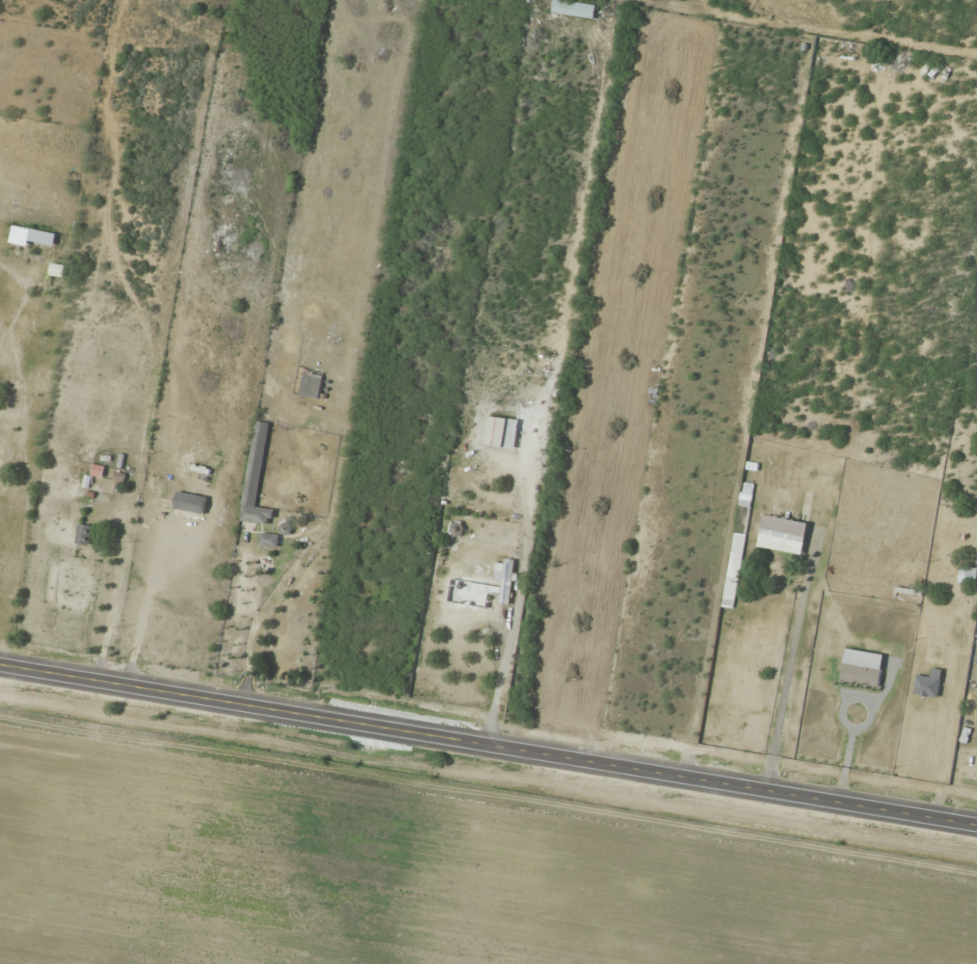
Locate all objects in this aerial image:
building: (837, 49)
building: (57, 271)
building: (310, 384)
building: (510, 434)
building: (255, 479)
building: (782, 533)
building: (83, 534)
building: (268, 539)
building: (502, 582)
building: (958, 588)
building: (861, 667)
road: (488, 744)

